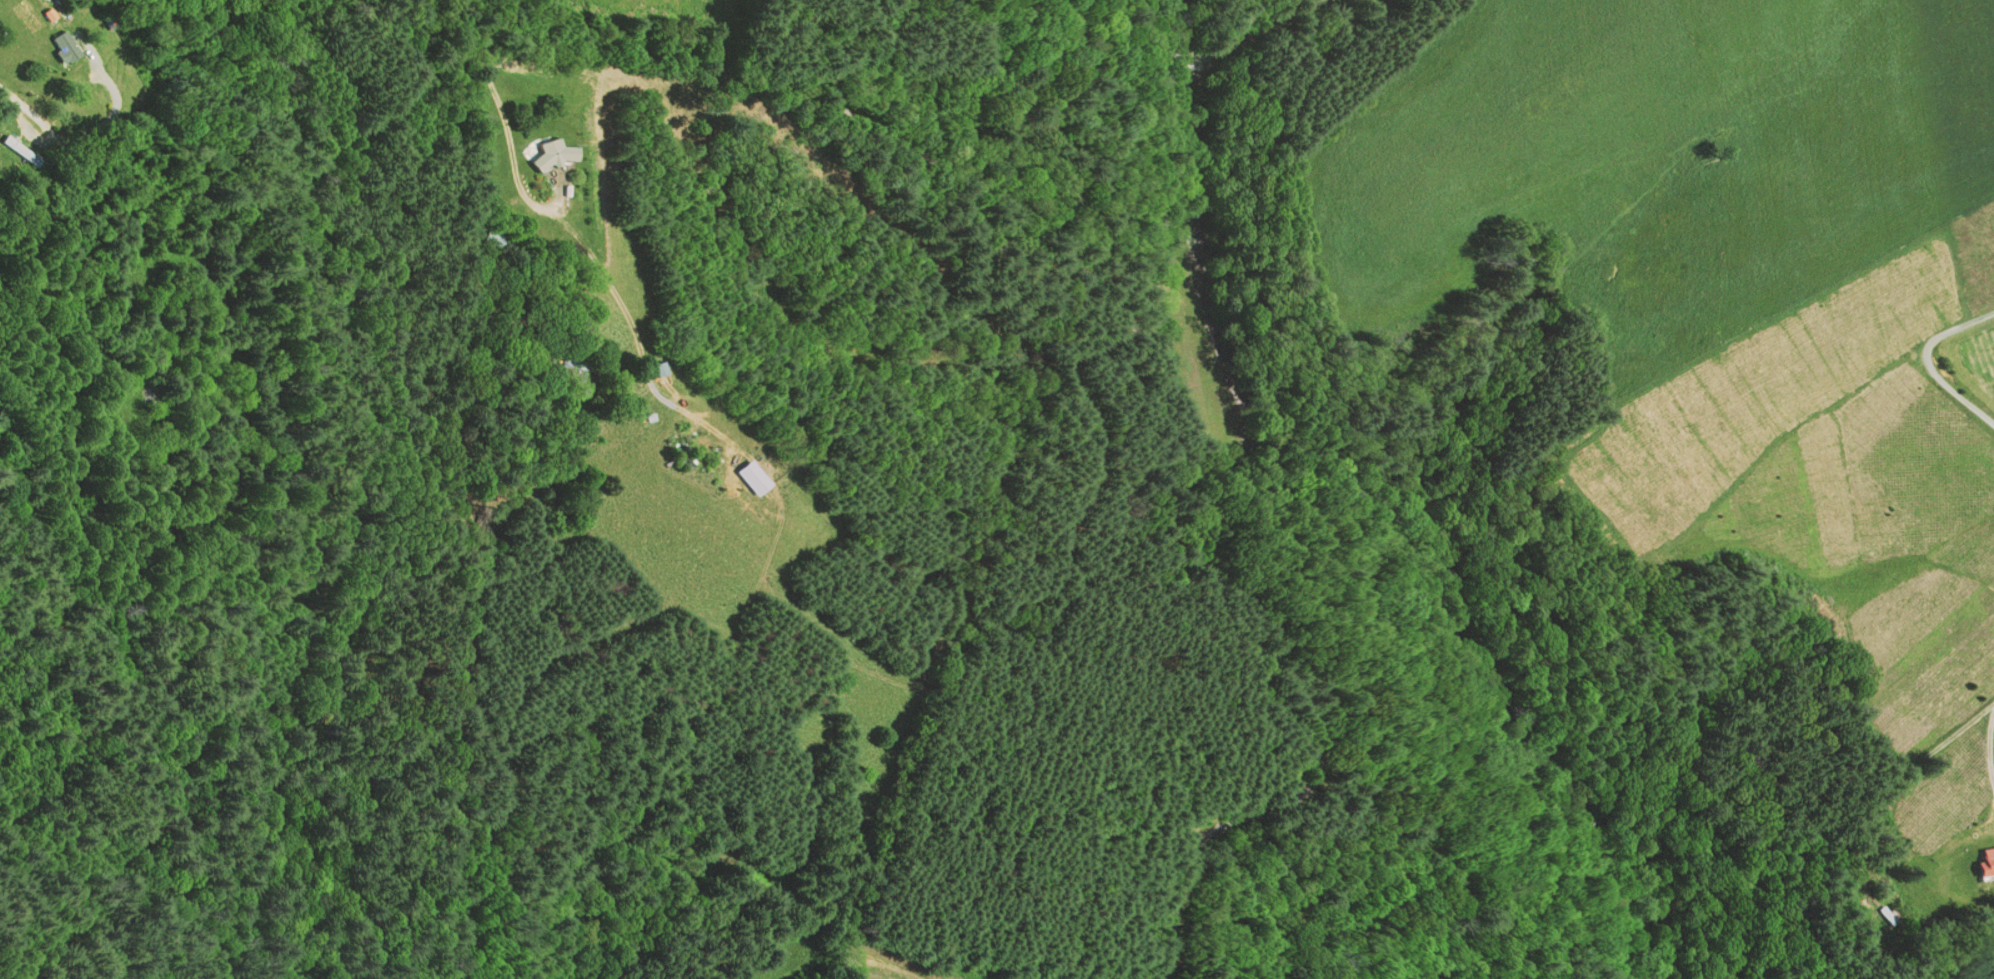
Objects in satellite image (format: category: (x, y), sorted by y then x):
building: (57, 49)
road: (499, 106)
road: (57, 149)
building: (17, 150)
building: (550, 152)
building: (573, 364)
building: (654, 367)
building: (678, 453)
building: (749, 477)
road: (1954, 944)
road: (1920, 977)

